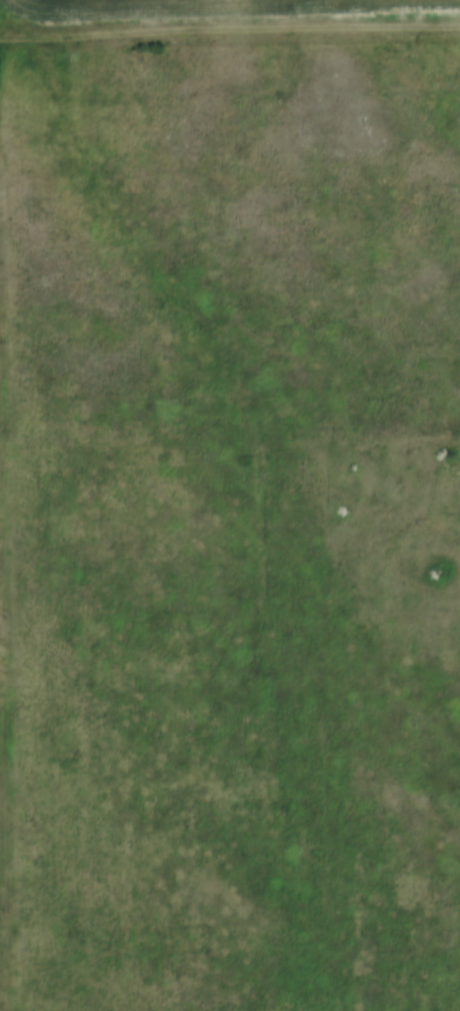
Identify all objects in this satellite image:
road: (223, 32)
road: (2, 67)
road: (0, 1005)

